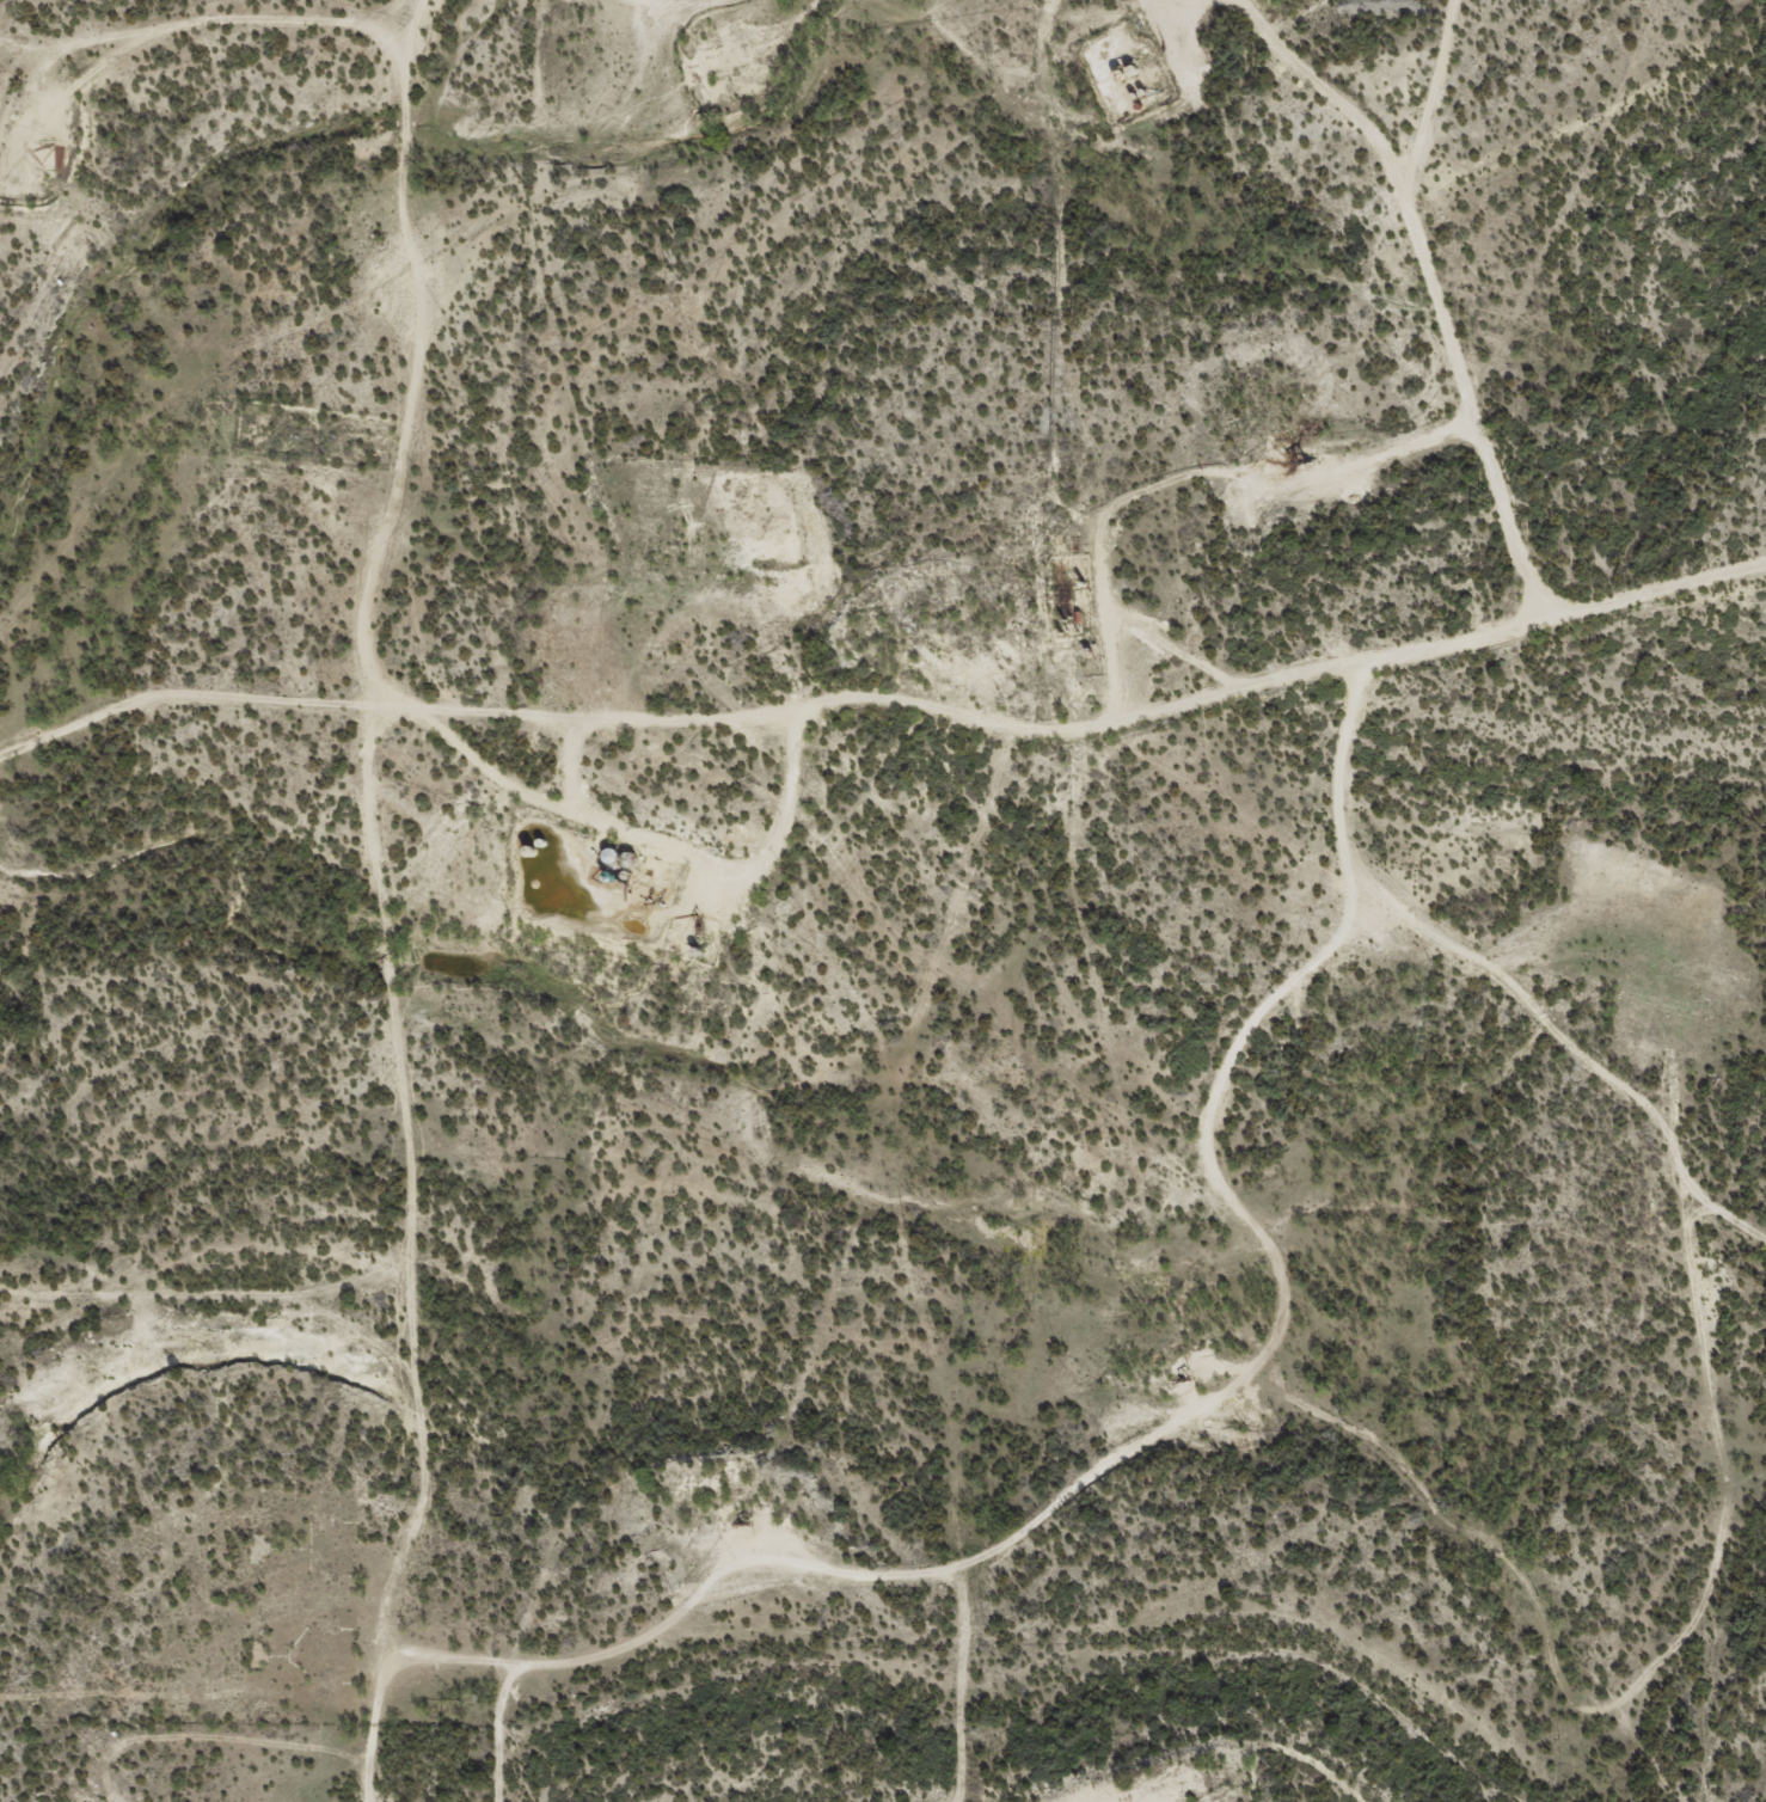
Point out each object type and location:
road: (817, 14)
road: (216, 56)
road: (1485, 151)
road: (1531, 305)
road: (1099, 723)
road: (421, 897)
road: (1682, 1197)
road: (213, 1276)
road: (1253, 1785)

